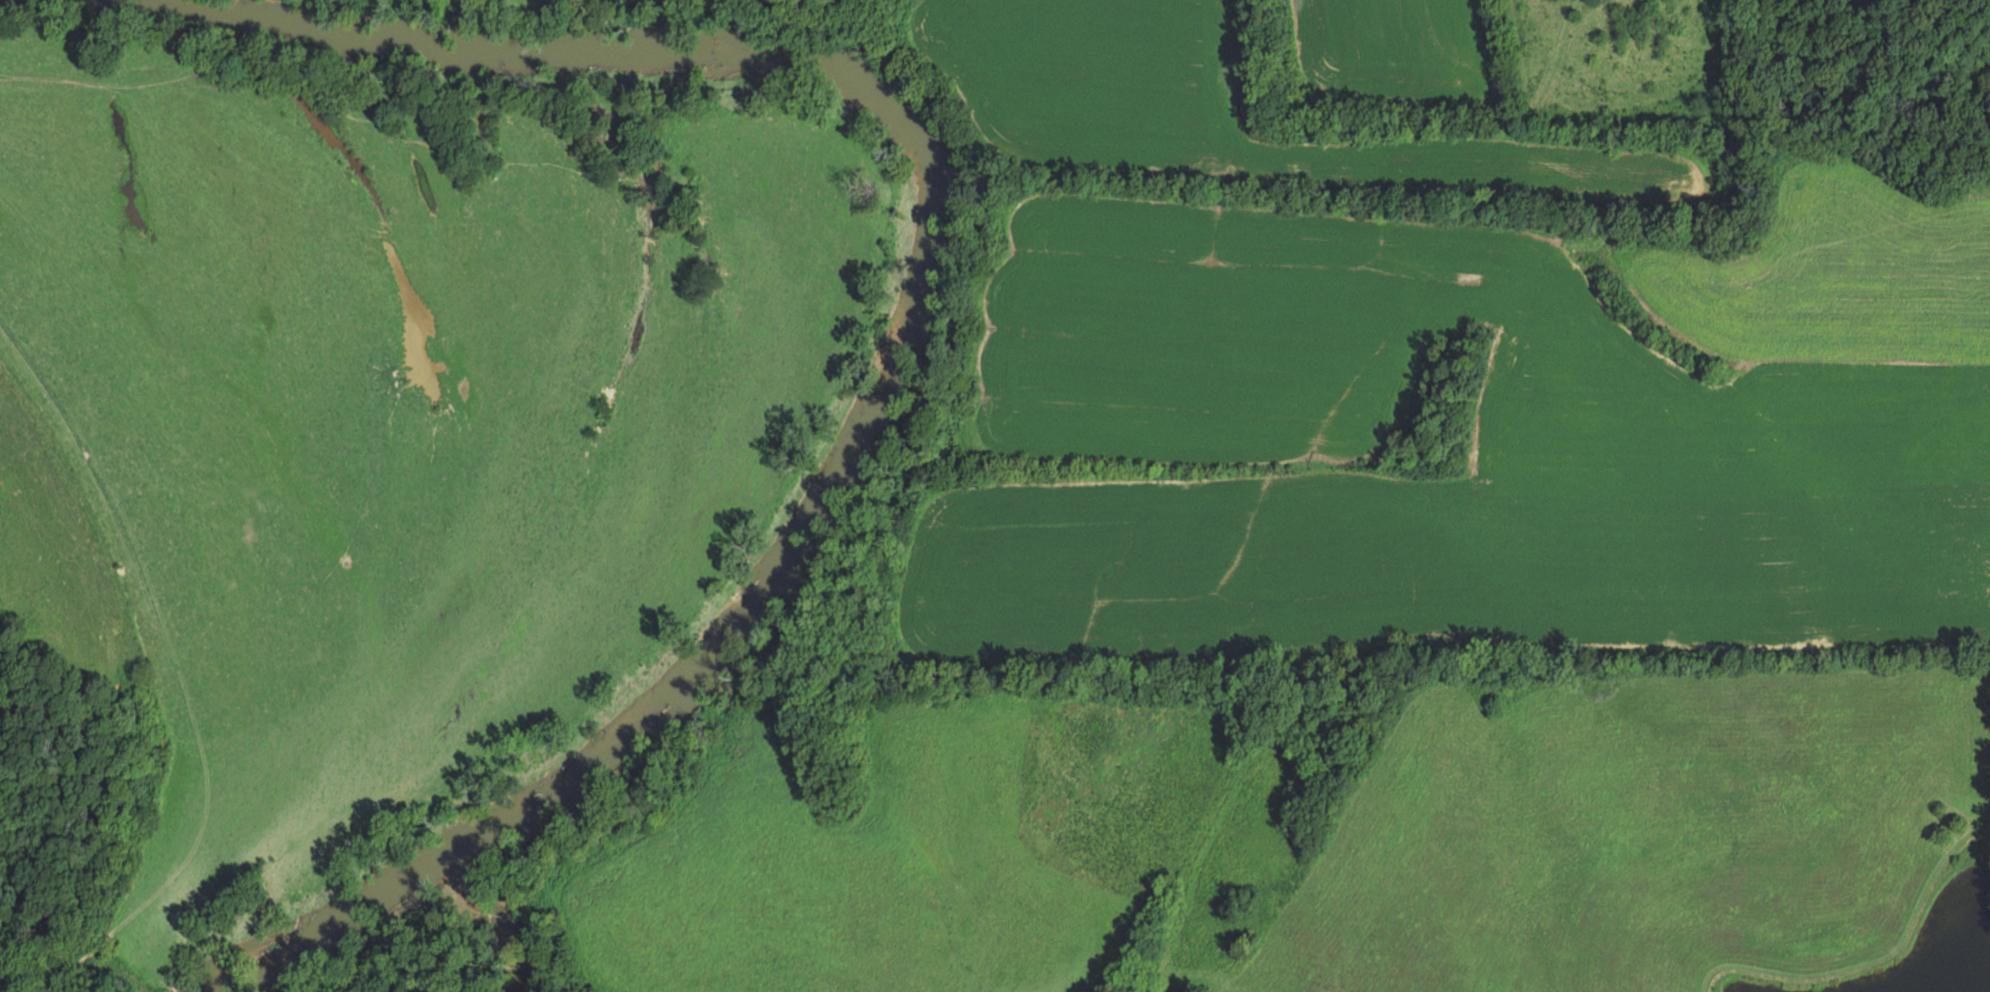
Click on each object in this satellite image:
river: (898, 348)

